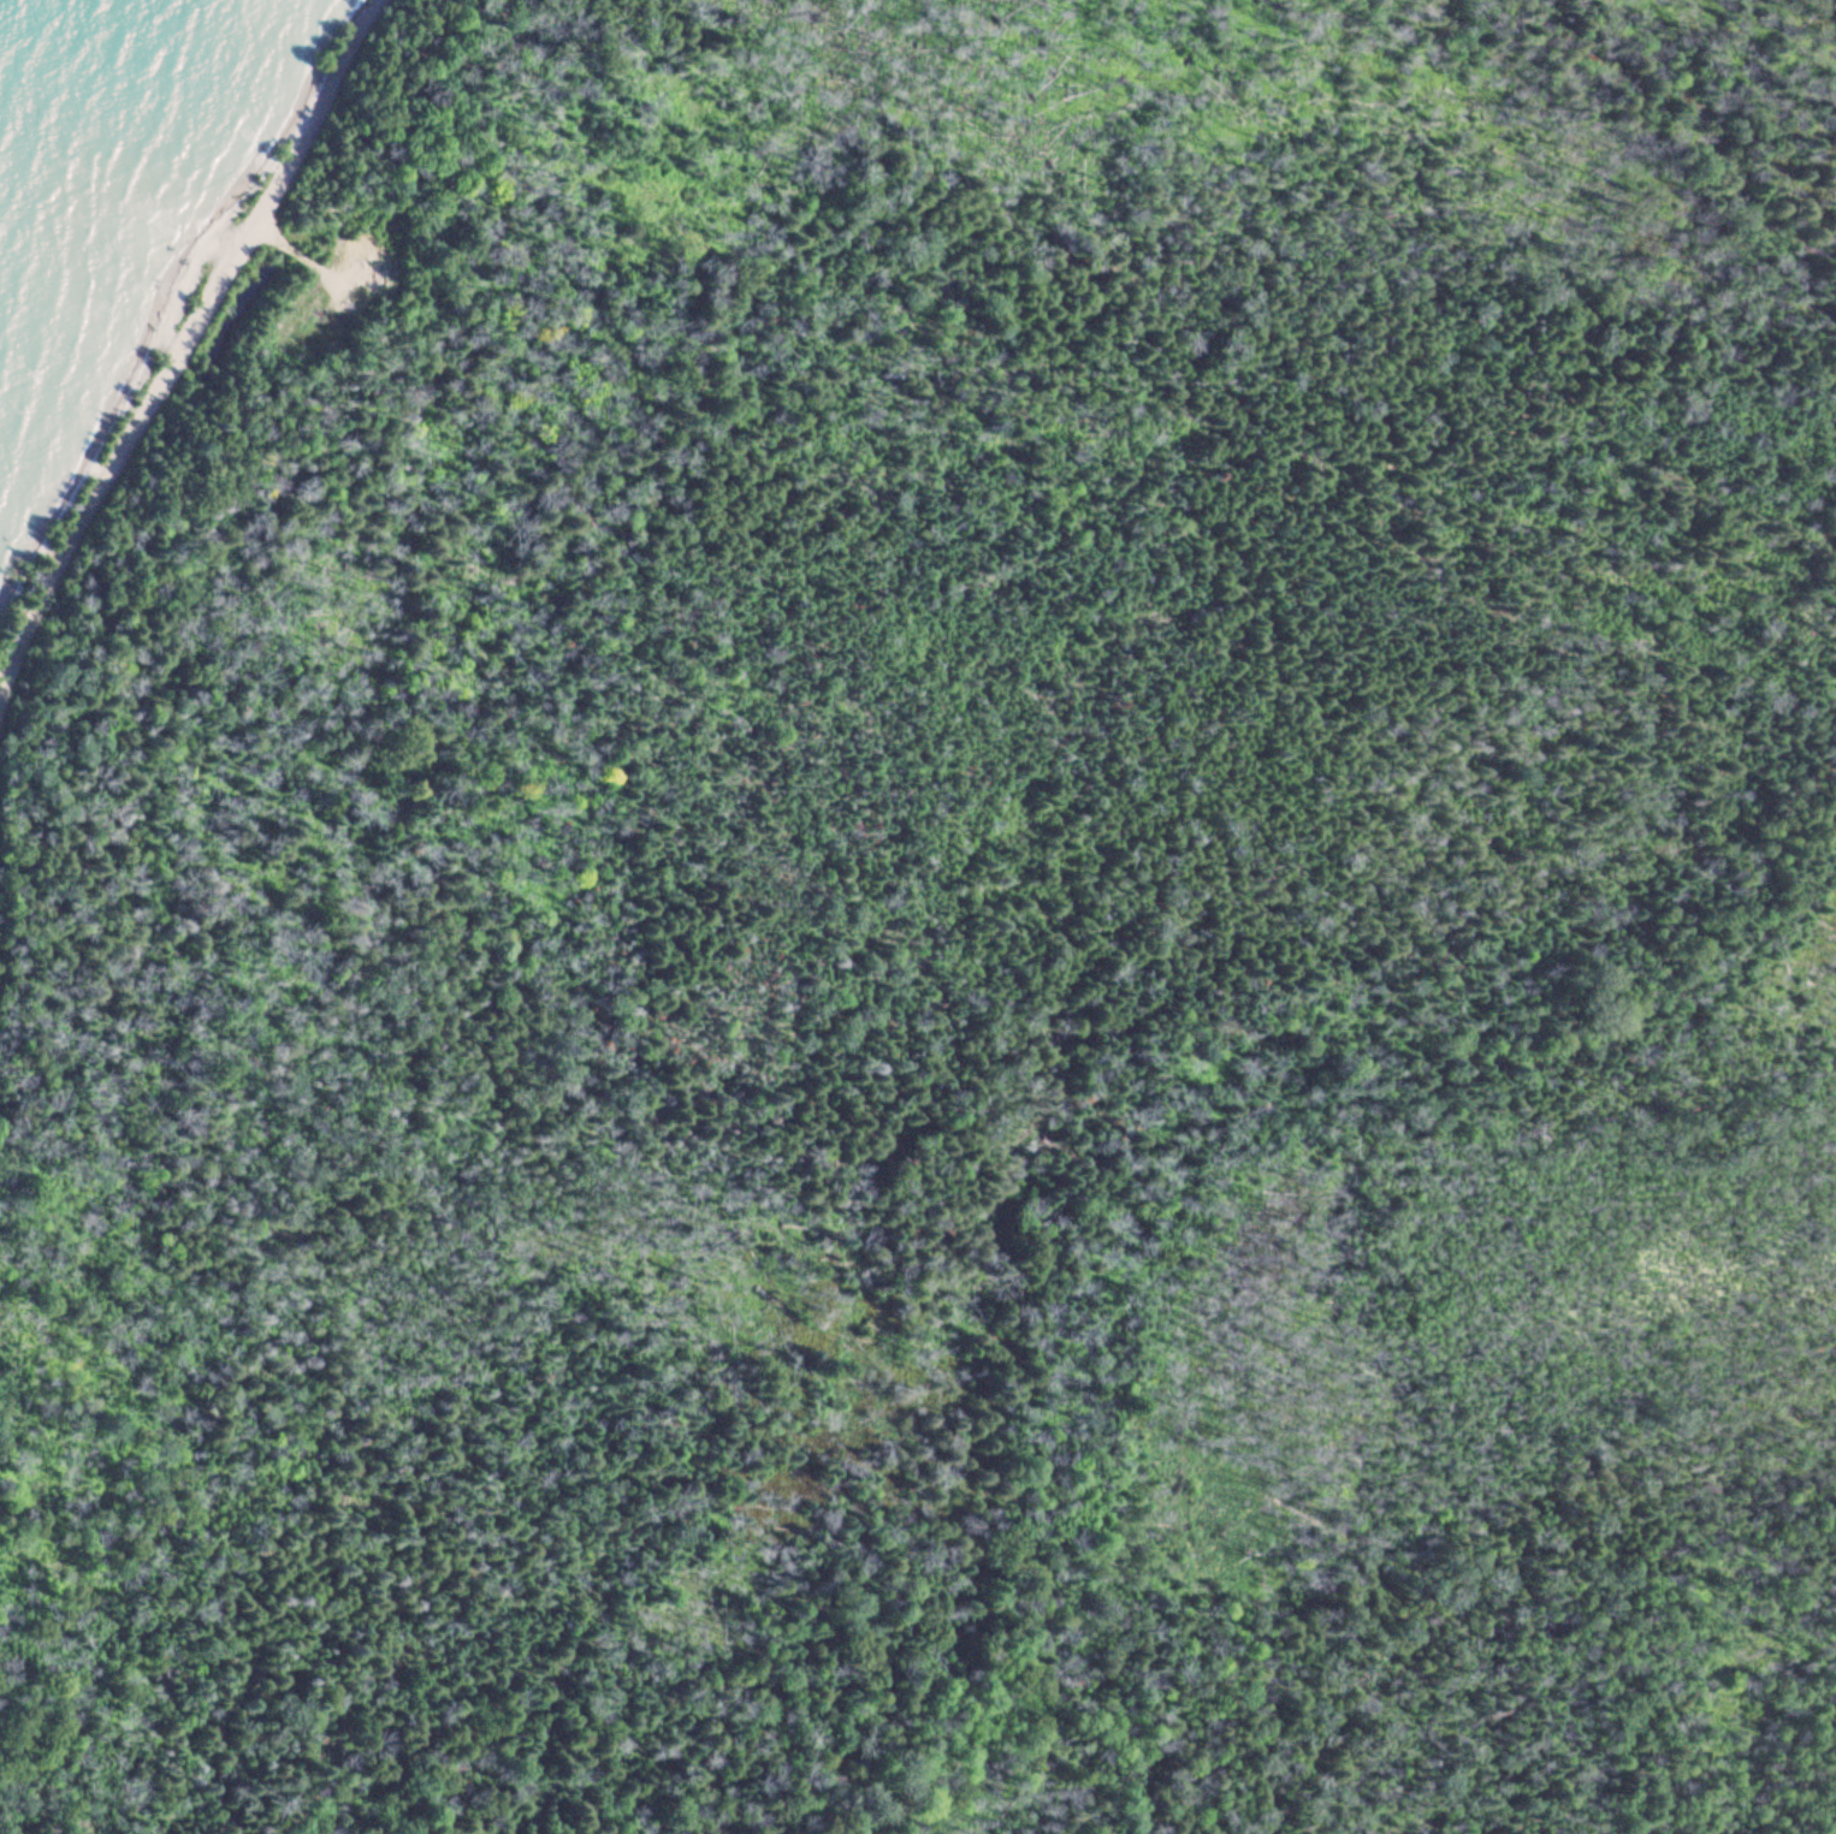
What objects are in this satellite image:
road: (294, 254)
parking lot: (342, 295)
road: (183, 342)
park: (923, 921)
road: (1184, 1187)

